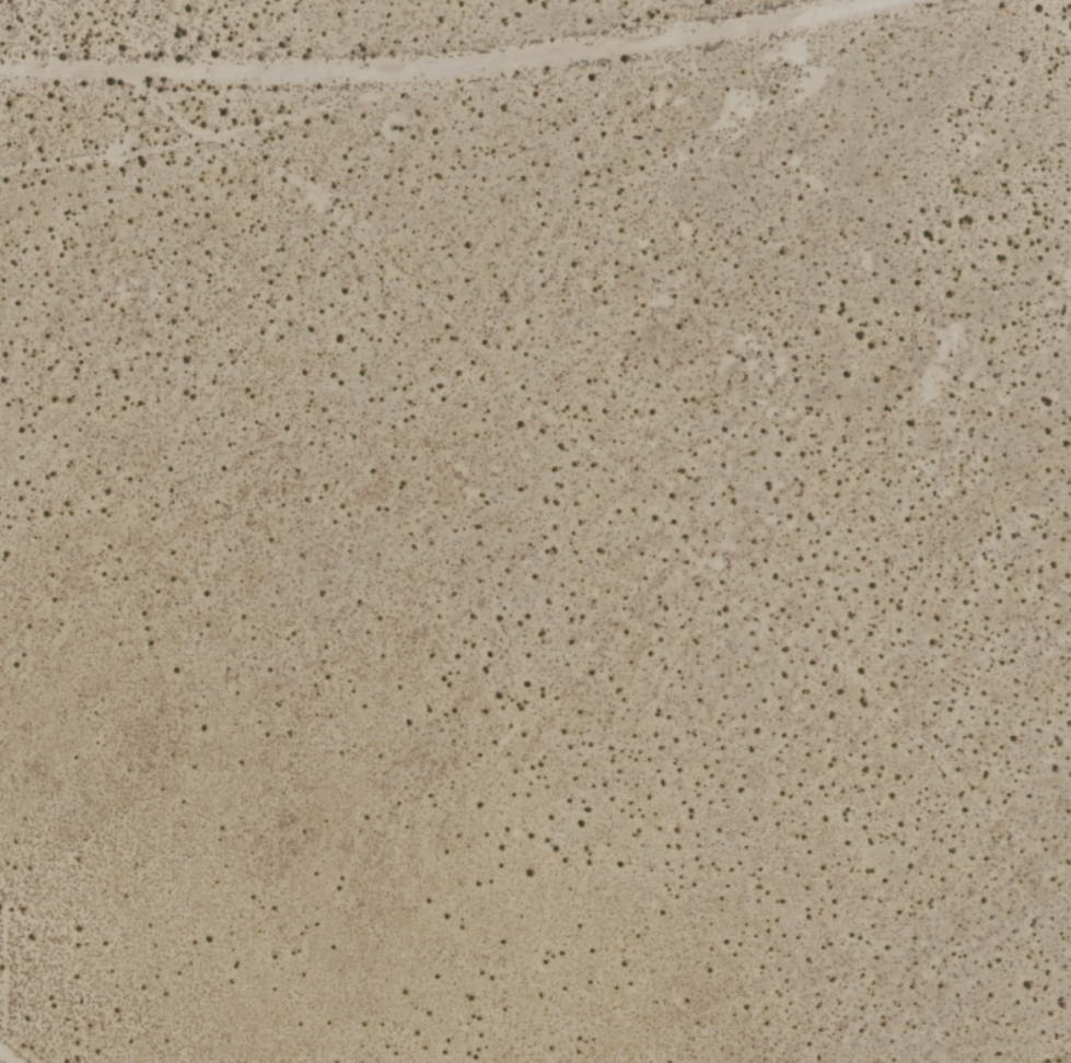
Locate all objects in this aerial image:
airport: (535, 531)

